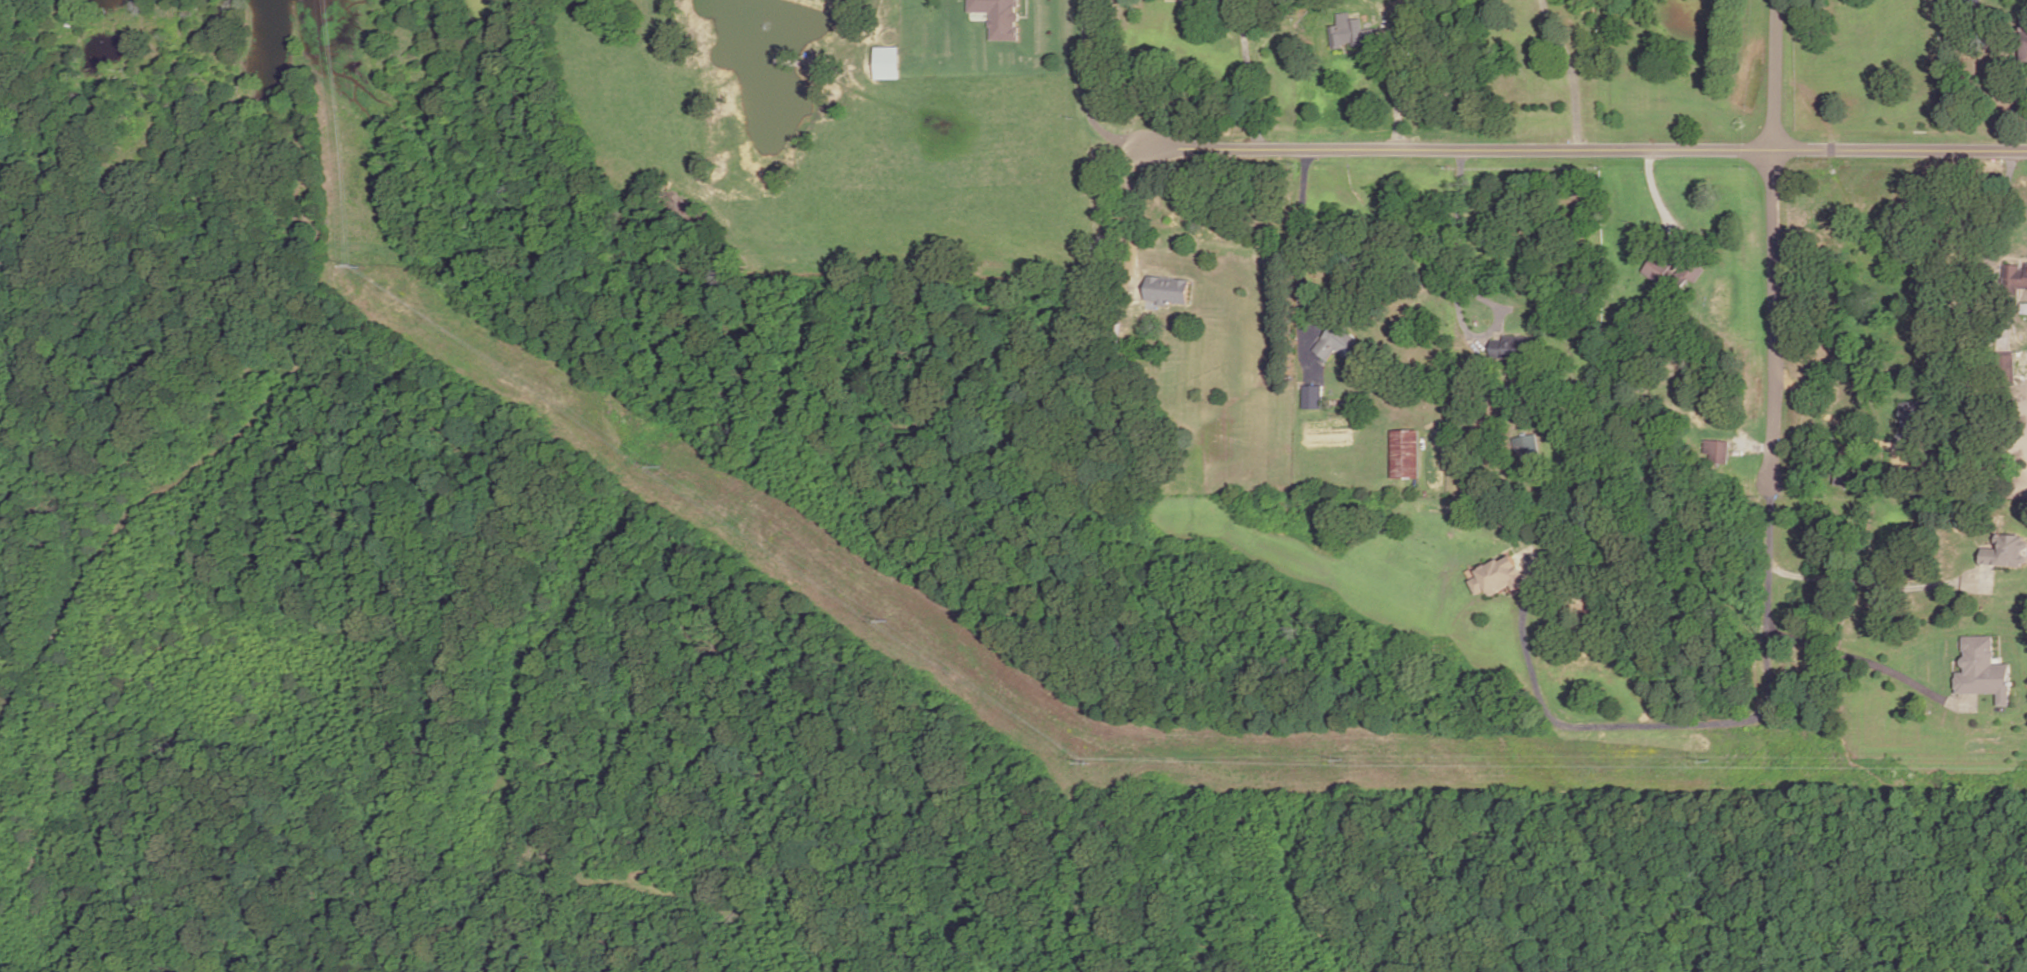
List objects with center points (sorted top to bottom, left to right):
road: (1027, 10)
building: (1000, 17)
building: (1351, 33)
building: (2026, 41)
road: (1361, 52)
road: (1401, 59)
building: (887, 62)
road: (1571, 71)
road: (1248, 74)
road: (1085, 92)
road: (1587, 150)
road: (2011, 197)
road: (1659, 201)
road: (1127, 219)
road: (1775, 242)
road: (1303, 262)
power tower: (370, 264)
building: (1673, 274)
building: (2015, 276)
building: (1166, 290)
road: (1454, 295)
building: (1337, 344)
building: (1509, 349)
building: (2005, 366)
road: (1697, 376)
building: (1312, 398)
building: (1913, 418)
road: (1838, 426)
building: (1525, 448)
road: (1753, 450)
building: (1719, 452)
building: (1405, 455)
power tower: (662, 463)
building: (1470, 471)
building: (1843, 478)
building: (2006, 552)
road: (1977, 560)
building: (1500, 576)
road: (1873, 586)
road: (1517, 592)
power tower: (890, 620)
road: (1869, 664)
building: (1983, 673)
road: (1952, 679)
road: (1682, 725)
power tower: (1092, 756)
power tower: (1344, 759)
power tower: (1711, 759)

